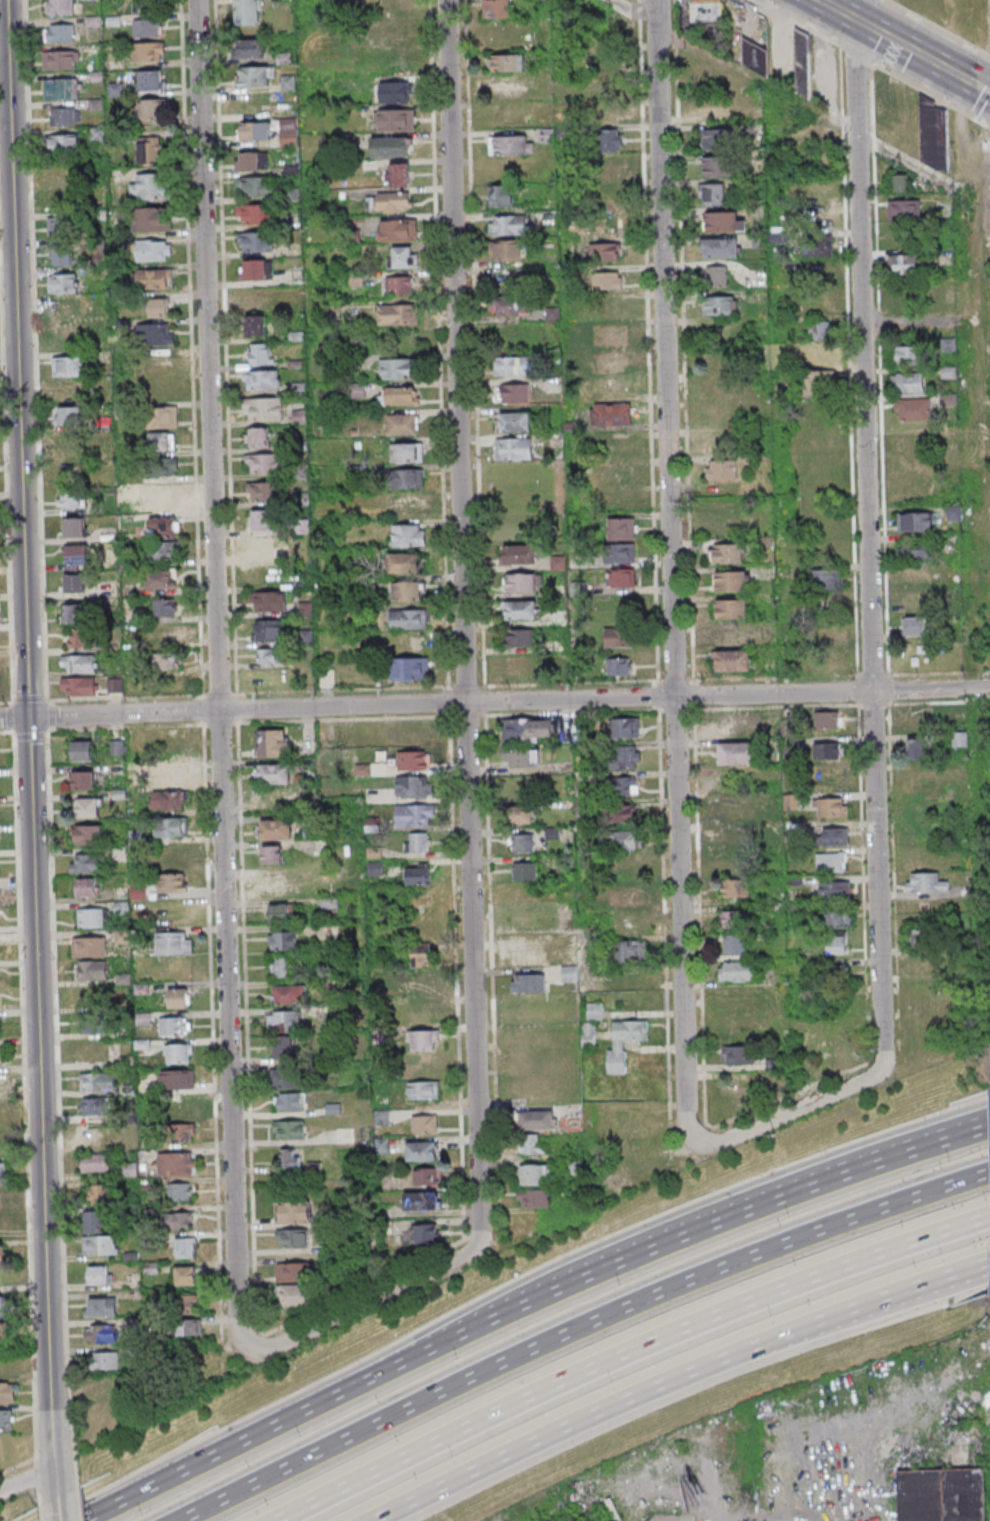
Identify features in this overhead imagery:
building: (148, 5)
building: (60, 7)
building: (497, 8)
road: (835, 9)
building: (249, 11)
road: (800, 22)
road: (938, 26)
building: (146, 27)
building: (733, 30)
building: (59, 33)
building: (393, 36)
building: (251, 47)
building: (148, 51)
road: (857, 52)
road: (921, 53)
building: (60, 59)
building: (599, 59)
building: (508, 62)
building: (804, 62)
building: (255, 76)
building: (149, 80)
building: (61, 88)
building: (116, 89)
building: (396, 92)
road: (931, 93)
road: (782, 95)
building: (882, 102)
building: (719, 107)
building: (152, 108)
building: (599, 113)
building: (501, 115)
building: (64, 116)
building: (396, 119)
building: (255, 130)
road: (660, 131)
building: (289, 137)
building: (719, 137)
building: (934, 137)
building: (611, 140)
building: (64, 143)
building: (512, 144)
building: (392, 146)
building: (149, 150)
building: (252, 160)
building: (720, 166)
building: (609, 167)
building: (398, 174)
building: (898, 183)
building: (149, 186)
building: (254, 186)
building: (712, 194)
building: (501, 195)
building: (63, 200)
building: (389, 201)
building: (904, 208)
building: (254, 213)
building: (151, 219)
building: (721, 221)
building: (508, 224)
building: (61, 225)
building: (398, 230)
building: (256, 241)
building: (816, 245)
building: (719, 247)
building: (154, 249)
building: (505, 250)
building: (605, 251)
building: (63, 255)
building: (403, 257)
building: (904, 264)
building: (256, 270)
building: (716, 275)
building: (153, 278)
building: (608, 280)
building: (62, 283)
building: (399, 285)
building: (257, 299)
building: (511, 305)
building: (718, 305)
building: (158, 307)
building: (64, 311)
building: (397, 314)
building: (256, 325)
building: (819, 329)
building: (67, 332)
building: (156, 333)
building: (609, 335)
building: (260, 353)
building: (816, 353)
building: (906, 354)
building: (610, 363)
building: (511, 365)
building: (67, 366)
building: (397, 368)
building: (949, 372)
building: (261, 379)
building: (819, 379)
building: (908, 382)
building: (357, 390)
building: (67, 392)
building: (514, 393)
building: (399, 395)
building: (264, 408)
building: (912, 409)
building: (611, 413)
building: (70, 415)
building: (159, 417)
building: (514, 421)
building: (401, 424)
building: (258, 437)
building: (162, 441)
building: (75, 443)
building: (513, 448)
building: (406, 452)
building: (260, 463)
building: (162, 466)
building: (70, 469)
building: (721, 469)
building: (407, 478)
building: (263, 490)
building: (155, 497)
building: (71, 498)
building: (953, 513)
building: (262, 519)
building: (917, 521)
building: (163, 526)
building: (74, 527)
building: (621, 529)
road: (866, 534)
building: (408, 535)
building: (163, 550)
building: (913, 550)
building: (619, 553)
building: (727, 553)
building: (519, 554)
building: (77, 557)
building: (405, 561)
building: (622, 577)
building: (822, 577)
building: (161, 579)
building: (731, 581)
building: (74, 582)
building: (521, 582)
building: (406, 591)
building: (267, 601)
building: (913, 603)
building: (163, 607)
building: (731, 608)
building: (520, 609)
building: (78, 613)
building: (409, 618)
road: (461, 622)
building: (914, 626)
building: (266, 630)
building: (164, 634)
building: (827, 635)
building: (617, 636)
building: (85, 637)
building: (519, 637)
building: (730, 637)
building: (269, 655)
building: (733, 660)
building: (165, 661)
building: (79, 663)
building: (517, 664)
building: (619, 665)
building: (410, 668)
road: (216, 681)
building: (78, 686)
road: (494, 702)
road: (673, 711)
building: (828, 719)
building: (915, 721)
building: (740, 723)
building: (625, 727)
building: (527, 730)
building: (959, 739)
building: (273, 742)
building: (118, 746)
road: (28, 748)
building: (916, 748)
building: (82, 750)
building: (827, 750)
building: (736, 753)
building: (520, 757)
building: (625, 757)
building: (413, 760)
building: (273, 773)
building: (173, 776)
building: (84, 779)
building: (621, 785)
building: (414, 786)
building: (168, 799)
building: (90, 807)
building: (832, 807)
building: (727, 808)
building: (522, 813)
building: (619, 813)
building: (414, 814)
building: (171, 827)
building: (275, 829)
building: (88, 833)
building: (834, 836)
building: (735, 838)
building: (624, 839)
building: (416, 842)
building: (521, 842)
building: (272, 854)
building: (172, 857)
building: (831, 862)
building: (86, 863)
building: (524, 871)
building: (417, 874)
building: (172, 882)
building: (279, 882)
building: (926, 882)
building: (86, 886)
building: (734, 887)
building: (834, 890)
building: (626, 896)
building: (281, 912)
building: (172, 915)
building: (93, 917)
building: (838, 918)
building: (920, 937)
building: (282, 940)
building: (173, 942)
building: (733, 943)
building: (836, 945)
building: (89, 946)
building: (629, 951)
building: (421, 954)
building: (525, 954)
building: (924, 965)
building: (281, 966)
building: (92, 969)
building: (736, 970)
building: (569, 973)
building: (837, 976)
building: (419, 982)
building: (528, 983)
building: (290, 993)
building: (178, 997)
building: (837, 1005)
building: (594, 1010)
building: (282, 1021)
building: (95, 1024)
building: (173, 1025)
building: (587, 1034)
building: (422, 1040)
building: (624, 1042)
building: (283, 1046)
building: (94, 1052)
building: (180, 1053)
building: (738, 1054)
building: (288, 1078)
building: (779, 1078)
building: (176, 1079)
building: (97, 1081)
building: (741, 1086)
building: (423, 1089)
building: (288, 1101)
building: (93, 1105)
building: (181, 1105)
road: (796, 1108)
building: (629, 1118)
building: (535, 1120)
building: (423, 1123)
building: (288, 1130)
building: (181, 1133)
building: (93, 1135)
building: (636, 1141)
building: (531, 1144)
building: (422, 1150)
road: (920, 1156)
building: (295, 1159)
building: (95, 1162)
building: (176, 1163)
building: (129, 1168)
building: (2, 1171)
building: (534, 1174)
building: (426, 1176)
building: (179, 1191)
building: (98, 1194)
building: (1, 1197)
building: (533, 1198)
building: (422, 1200)
building: (292, 1211)
building: (177, 1220)
building: (94, 1221)
building: (1, 1222)
building: (426, 1233)
building: (291, 1237)
building: (99, 1244)
building: (185, 1248)
building: (2, 1255)
building: (98, 1274)
building: (185, 1275)
building: (295, 1284)
road: (879, 1300)
road: (369, 1301)
building: (189, 1303)
building: (4, 1307)
building: (100, 1307)
building: (189, 1327)
building: (0, 1332)
road: (577, 1333)
building: (100, 1334)
road: (466, 1341)
road: (624, 1358)
building: (104, 1360)
building: (98, 1385)
building: (6, 1392)
building: (6, 1419)
road: (575, 1429)
road: (26, 1478)
building: (942, 1496)
road: (57, 1508)

